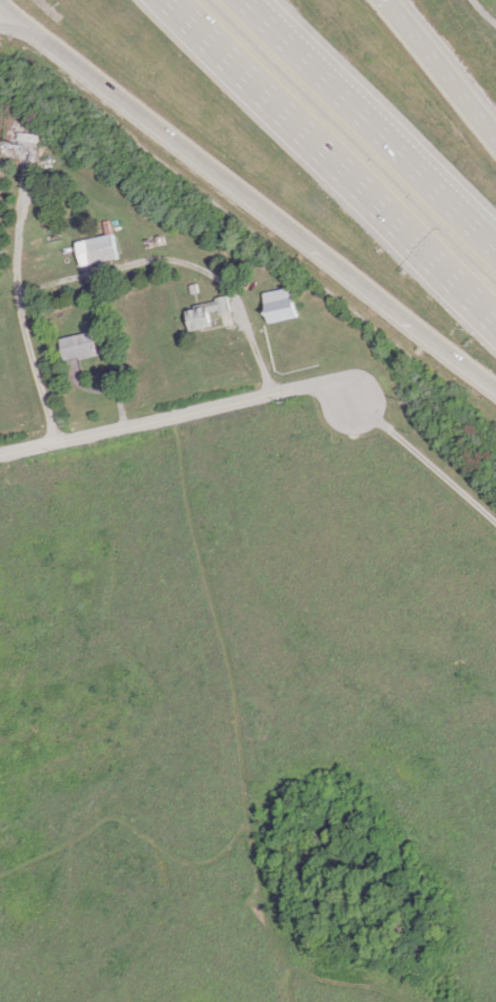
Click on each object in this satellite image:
road: (482, 14)
road: (11, 27)
road: (49, 47)
road: (439, 70)
road: (370, 124)
road: (336, 157)
road: (278, 221)
building: (97, 249)
road: (182, 261)
building: (280, 304)
building: (206, 311)
road: (21, 313)
building: (79, 345)
road: (109, 348)
road: (475, 373)
road: (178, 415)
road: (426, 460)

